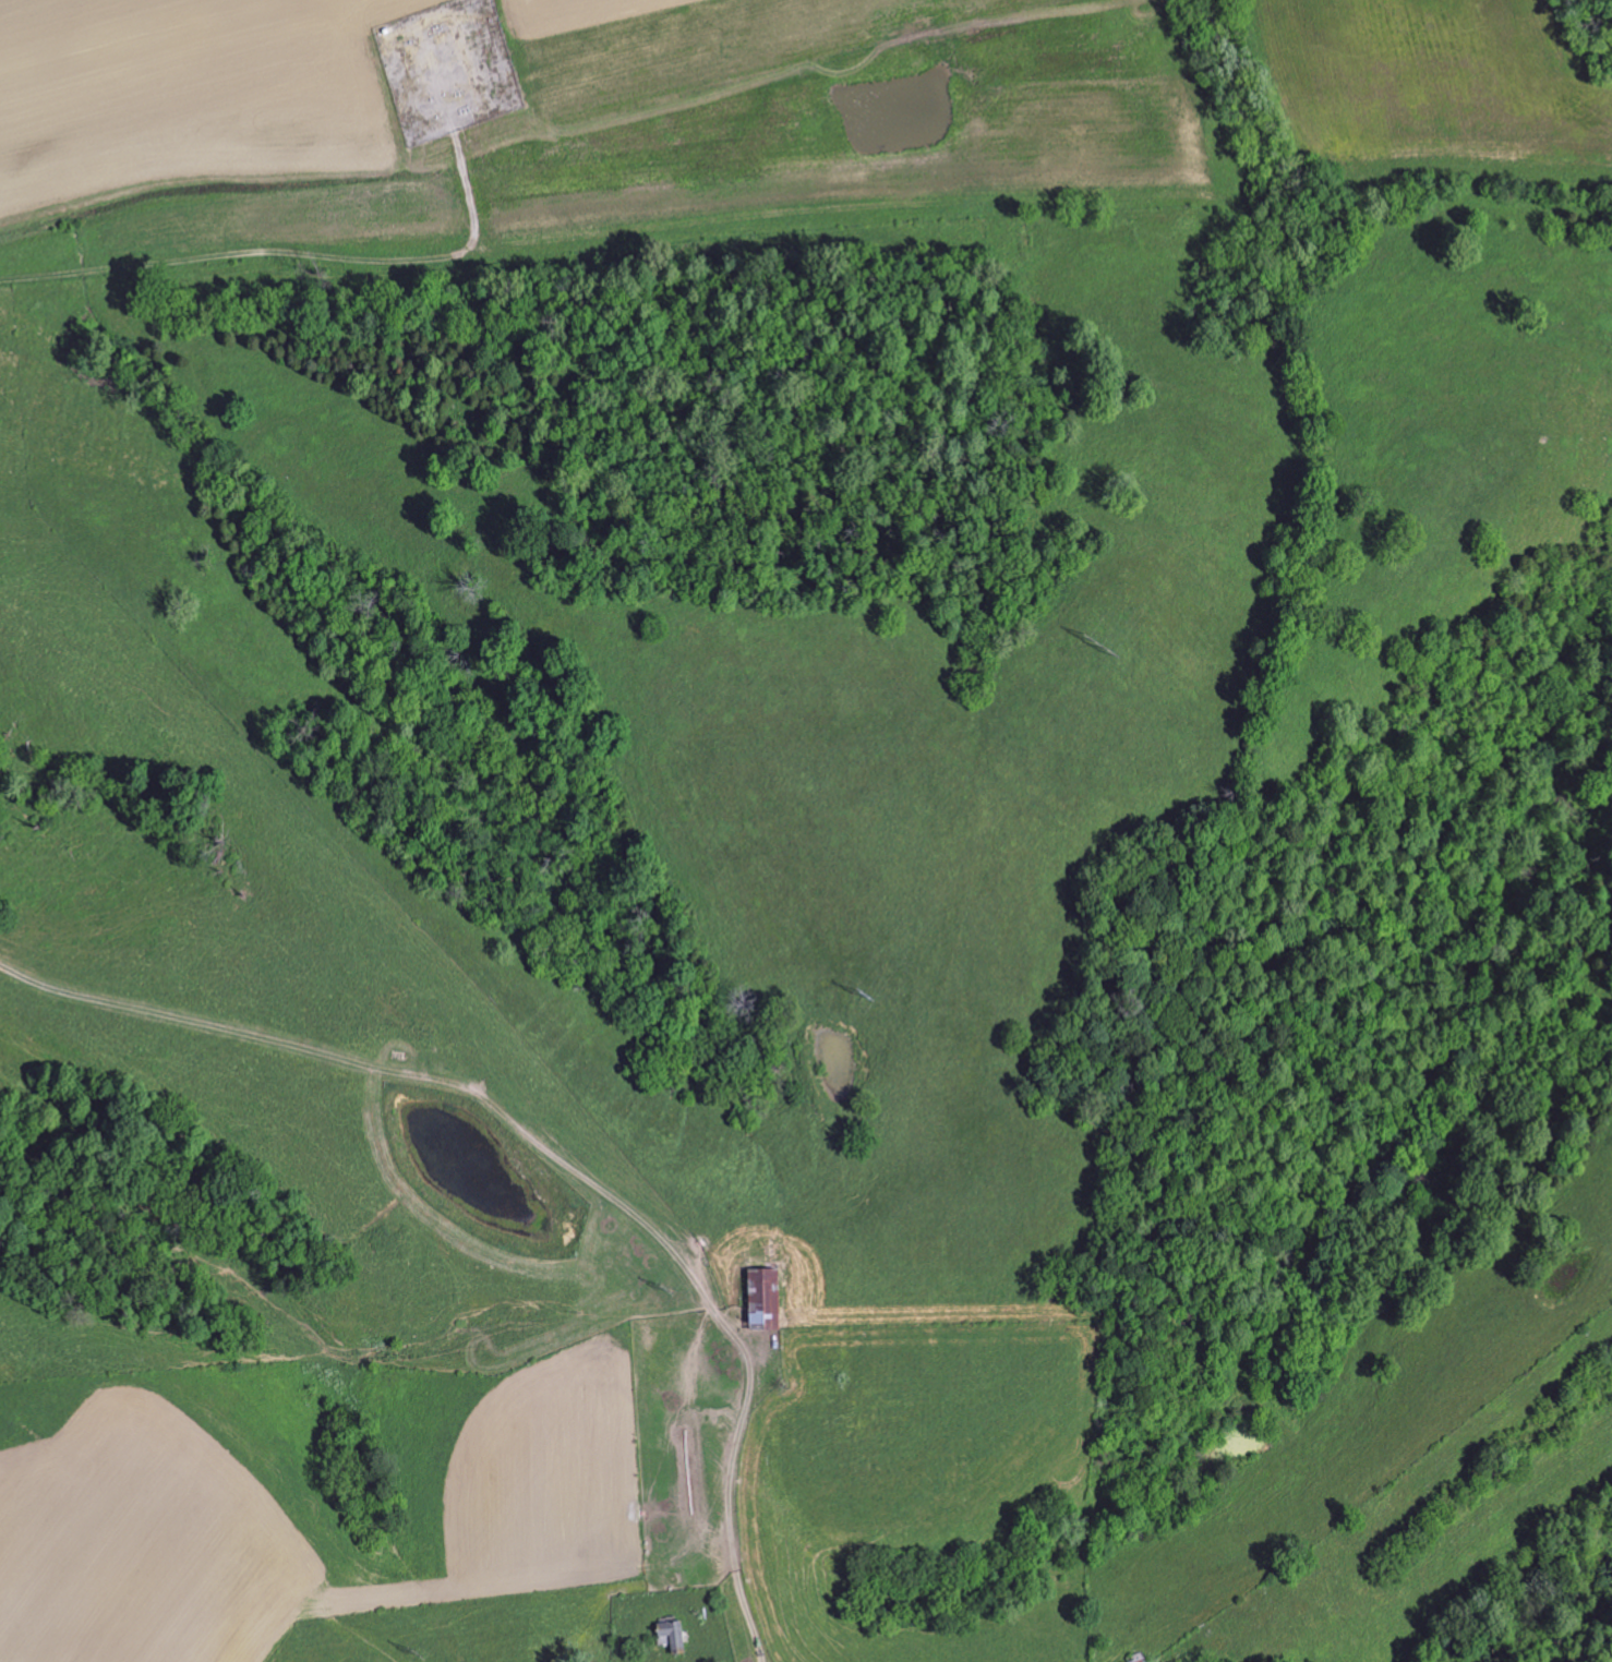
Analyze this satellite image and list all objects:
power tower: (1093, 647)
power tower: (858, 997)
power tower: (662, 1286)
building: (760, 1299)
road: (730, 1470)
building: (667, 1637)
power tower: (416, 1652)

